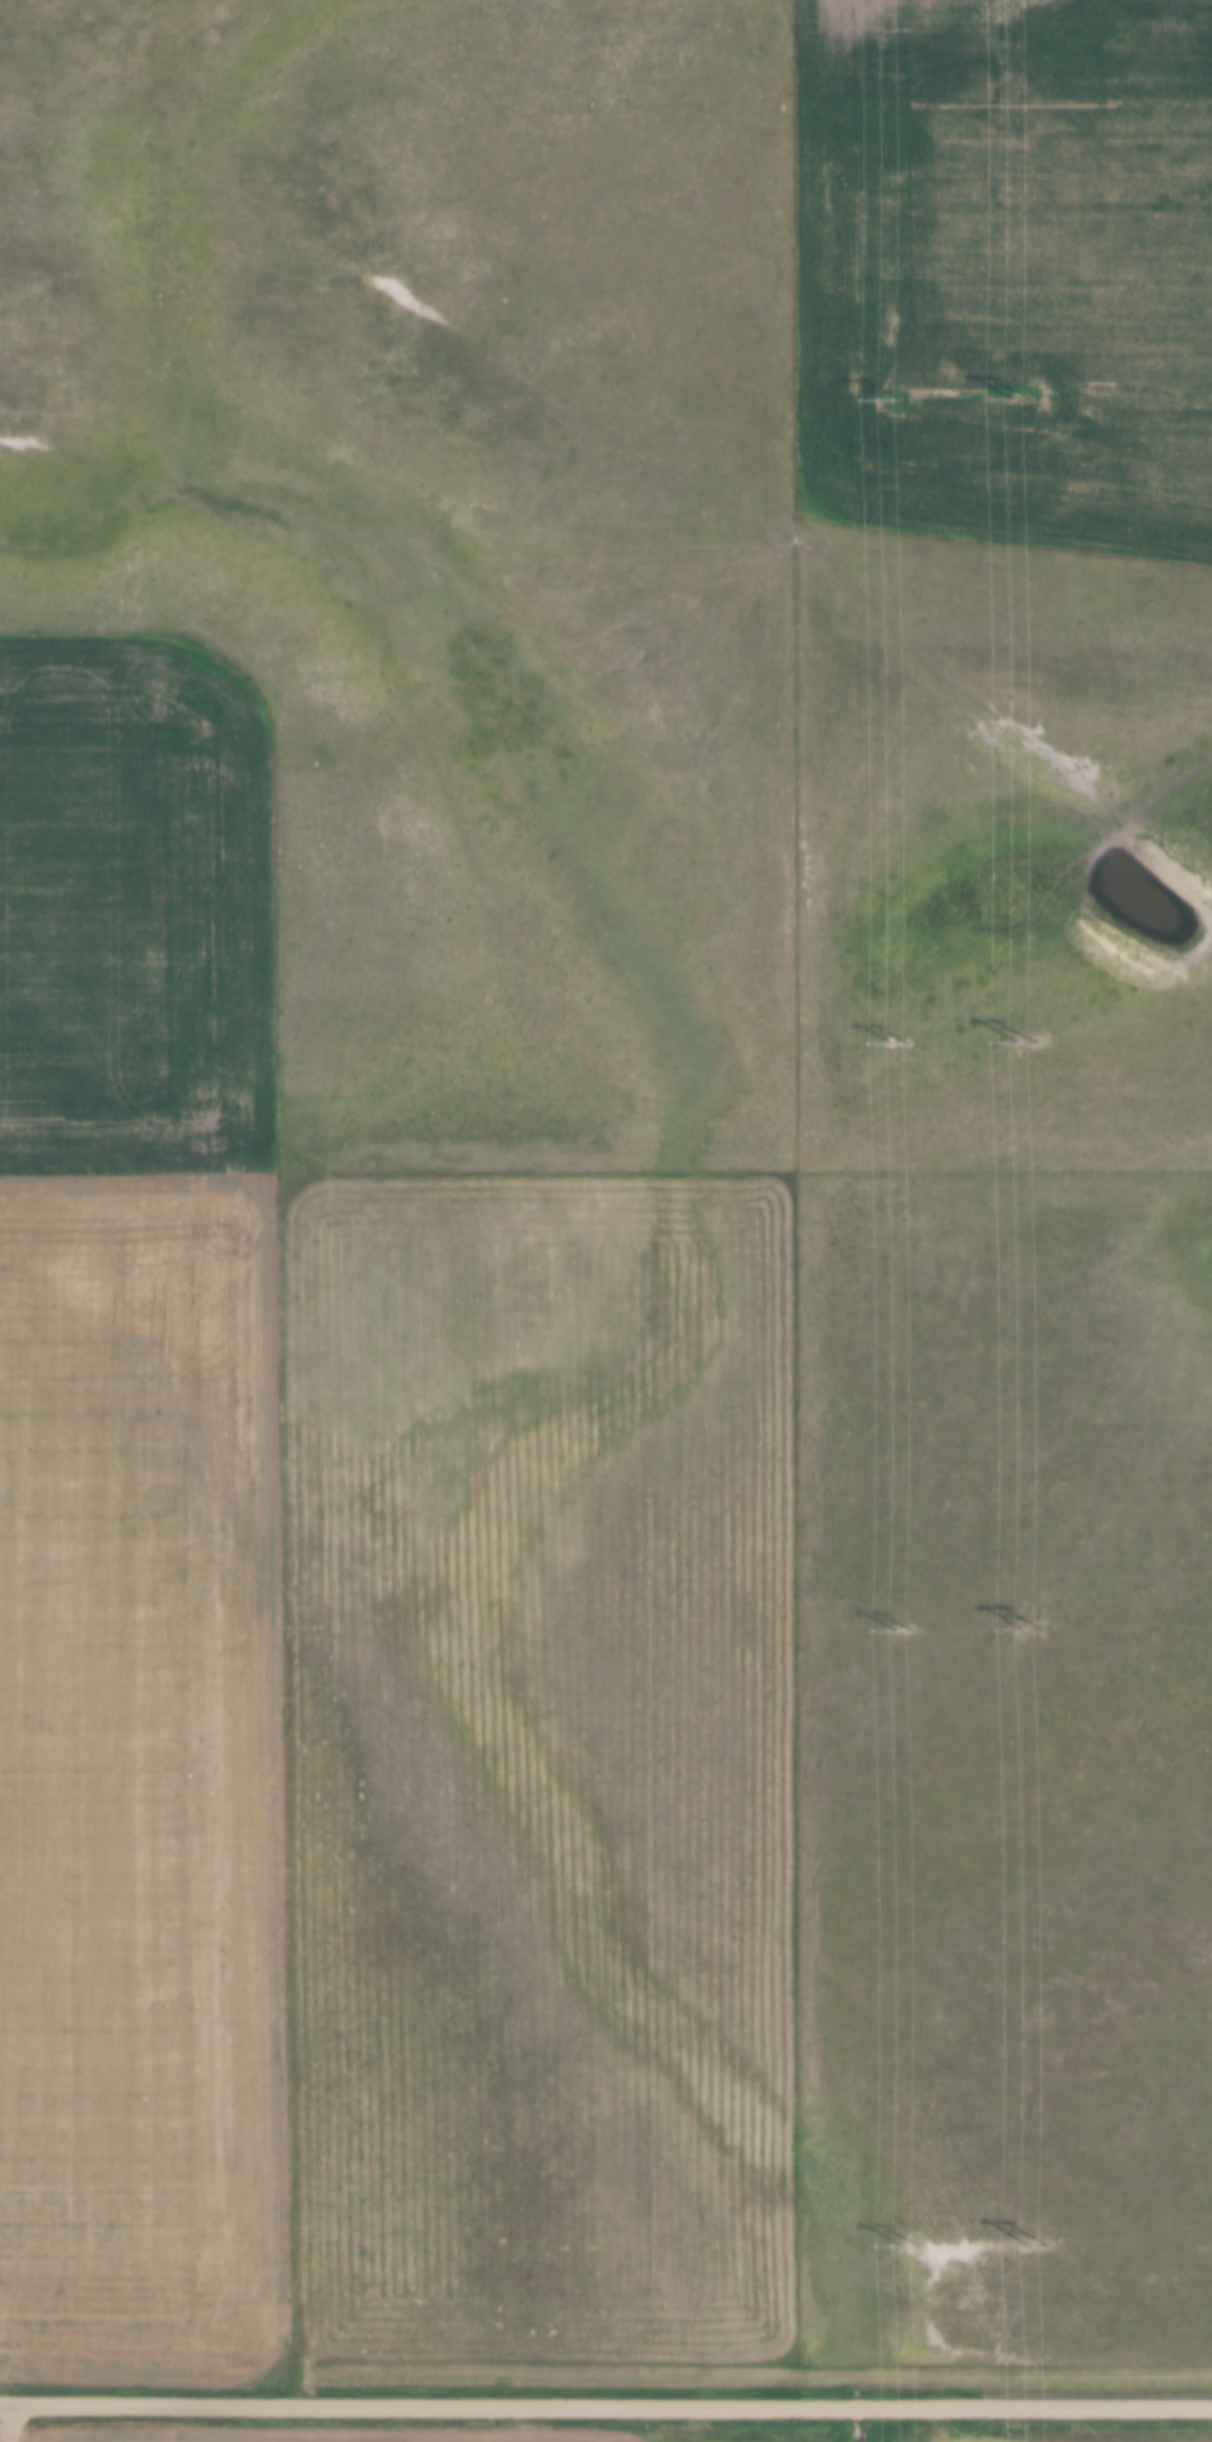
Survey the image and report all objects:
power tower: (1016, 398)
power tower: (890, 400)
power tower: (1023, 1042)
power tower: (896, 1045)
power tower: (1030, 1629)
power tower: (901, 1634)
power tower: (1035, 2246)
power tower: (903, 2249)
road: (605, 2404)
road: (4, 2423)

